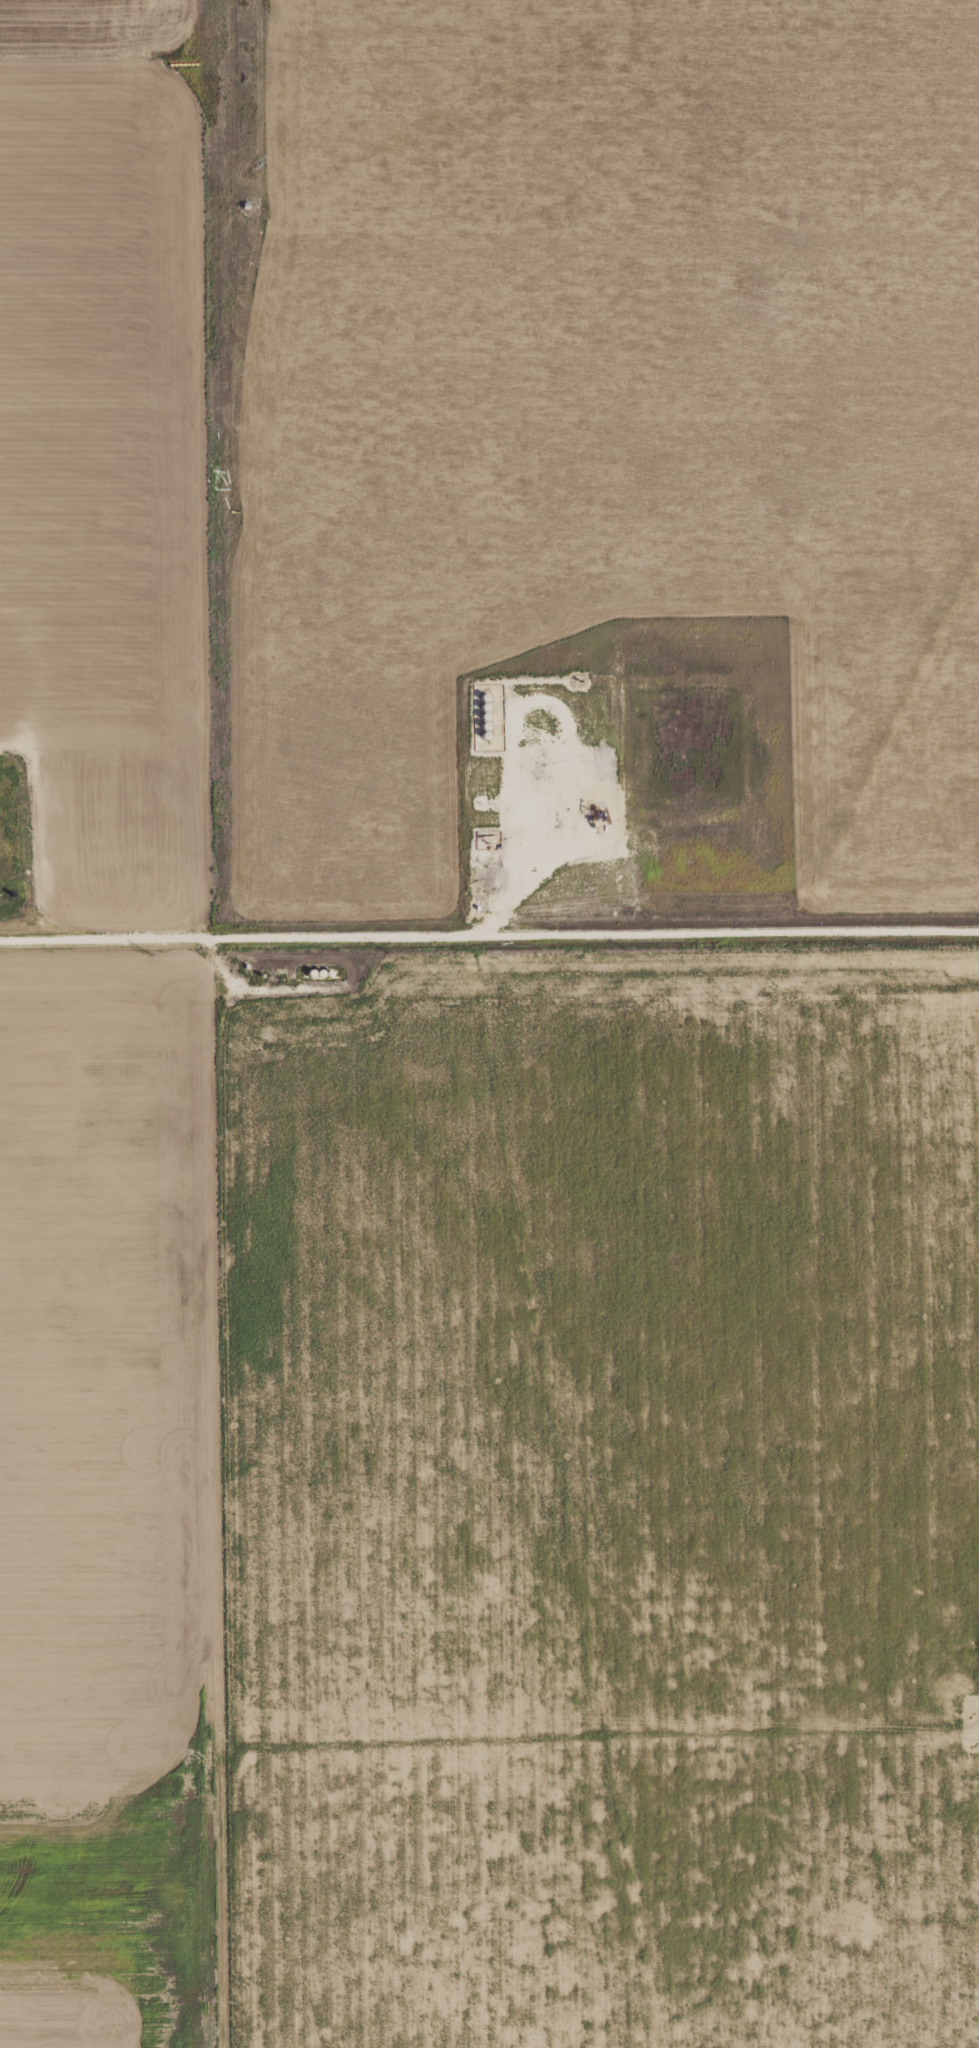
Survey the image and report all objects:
road: (235, 466)
road: (489, 931)

